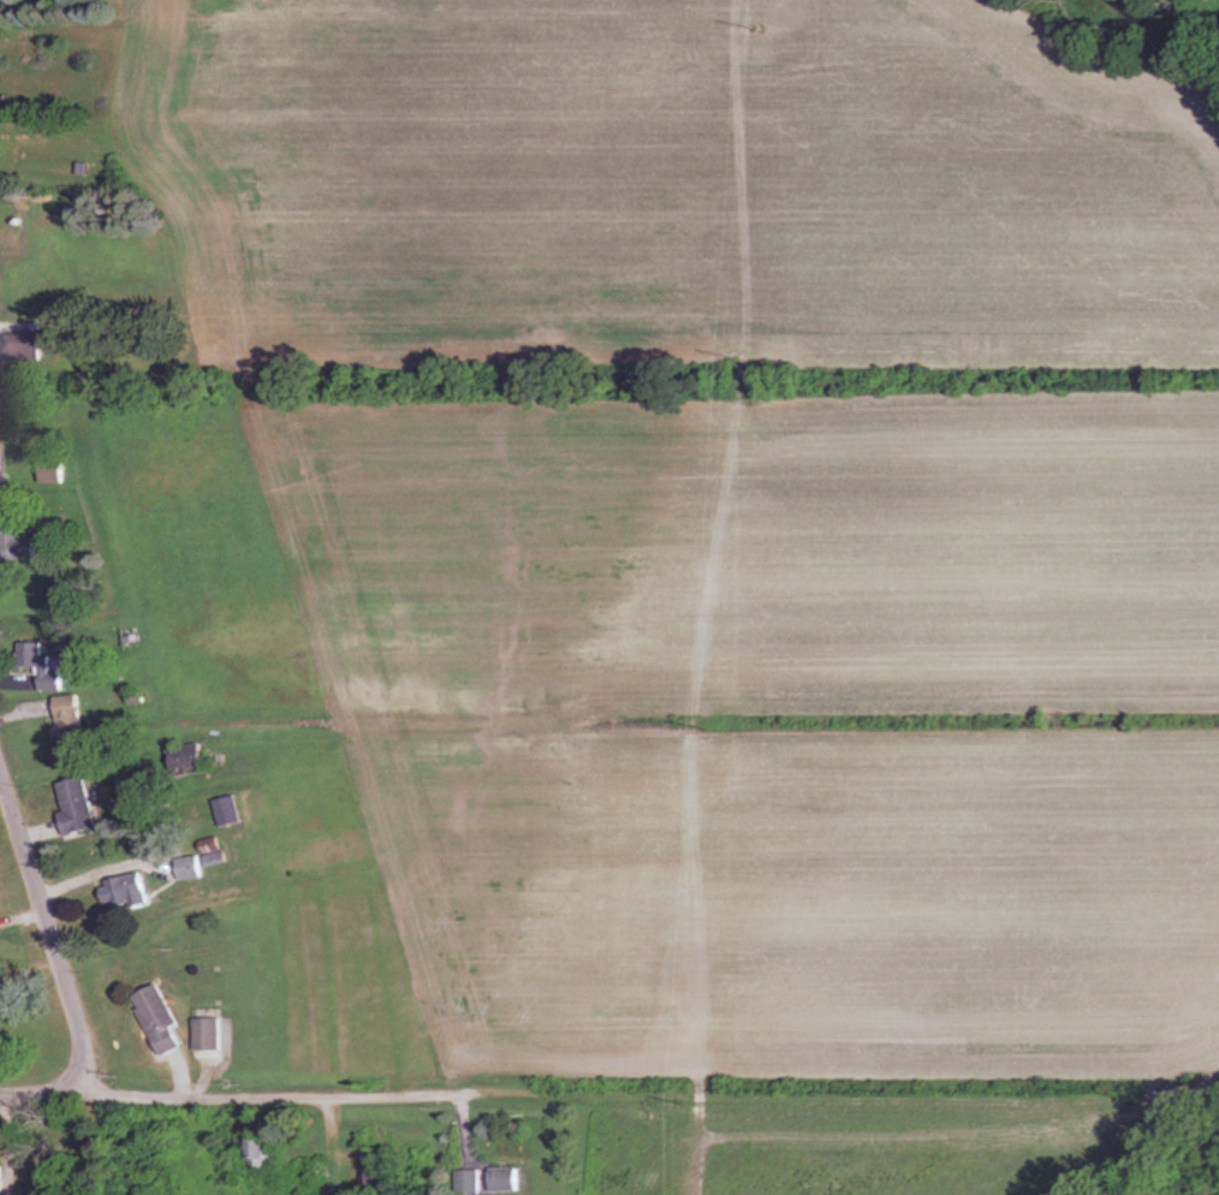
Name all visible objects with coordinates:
building: (24, 347)
building: (0, 464)
building: (53, 474)
building: (1, 519)
building: (47, 664)
building: (70, 731)
building: (191, 761)
building: (79, 808)
building: (232, 813)
building: (194, 869)
building: (129, 893)
road: (49, 935)
building: (0, 989)
building: (163, 1022)
building: (212, 1035)
road: (649, 1095)
road: (40, 1099)
building: (263, 1155)
building: (375, 1167)
building: (507, 1181)
building: (472, 1182)

